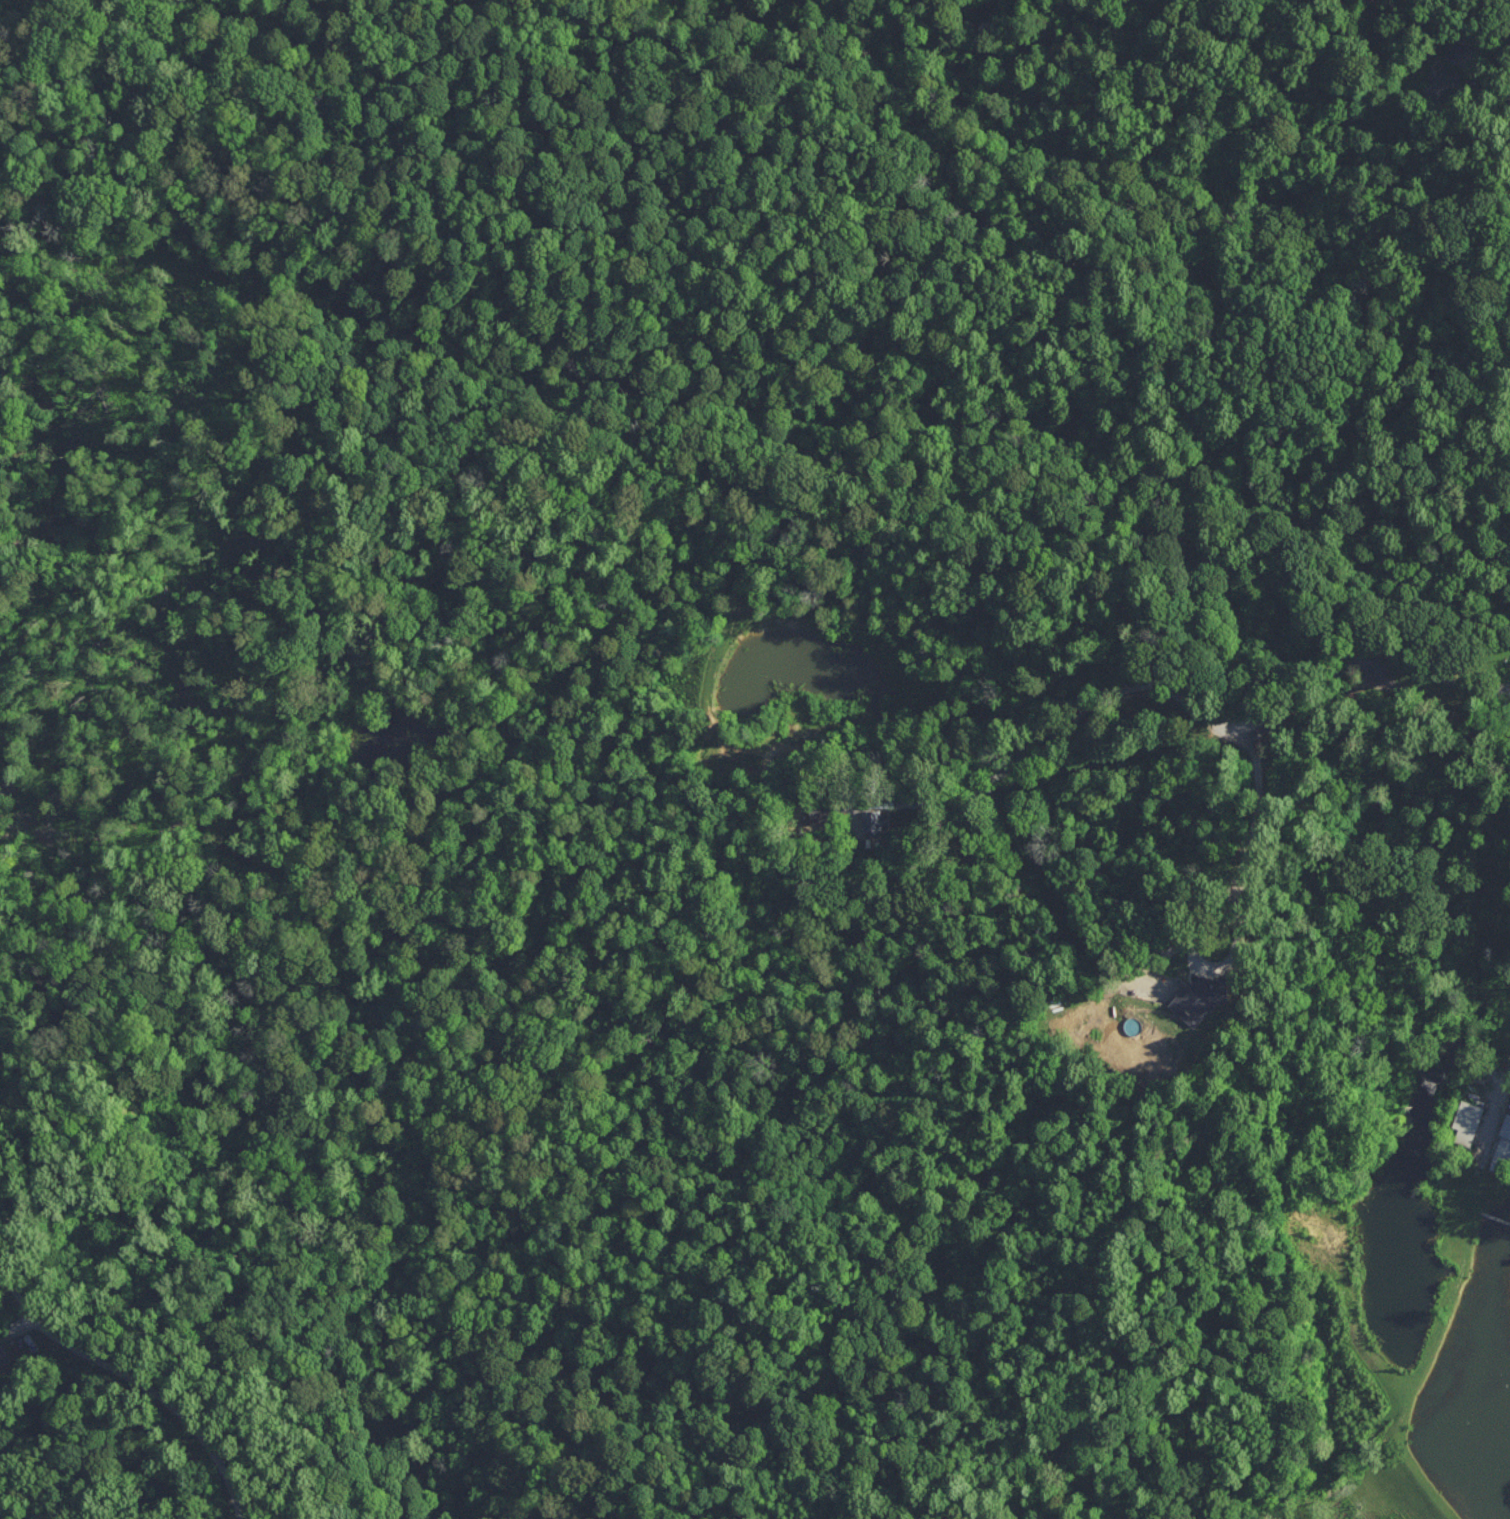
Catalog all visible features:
road: (1490, 80)
road: (1380, 660)
road: (1437, 710)
road: (1067, 720)
building: (871, 823)
road: (1249, 838)
building: (1199, 996)
building: (1466, 1120)
building: (1502, 1147)
road: (134, 1385)

